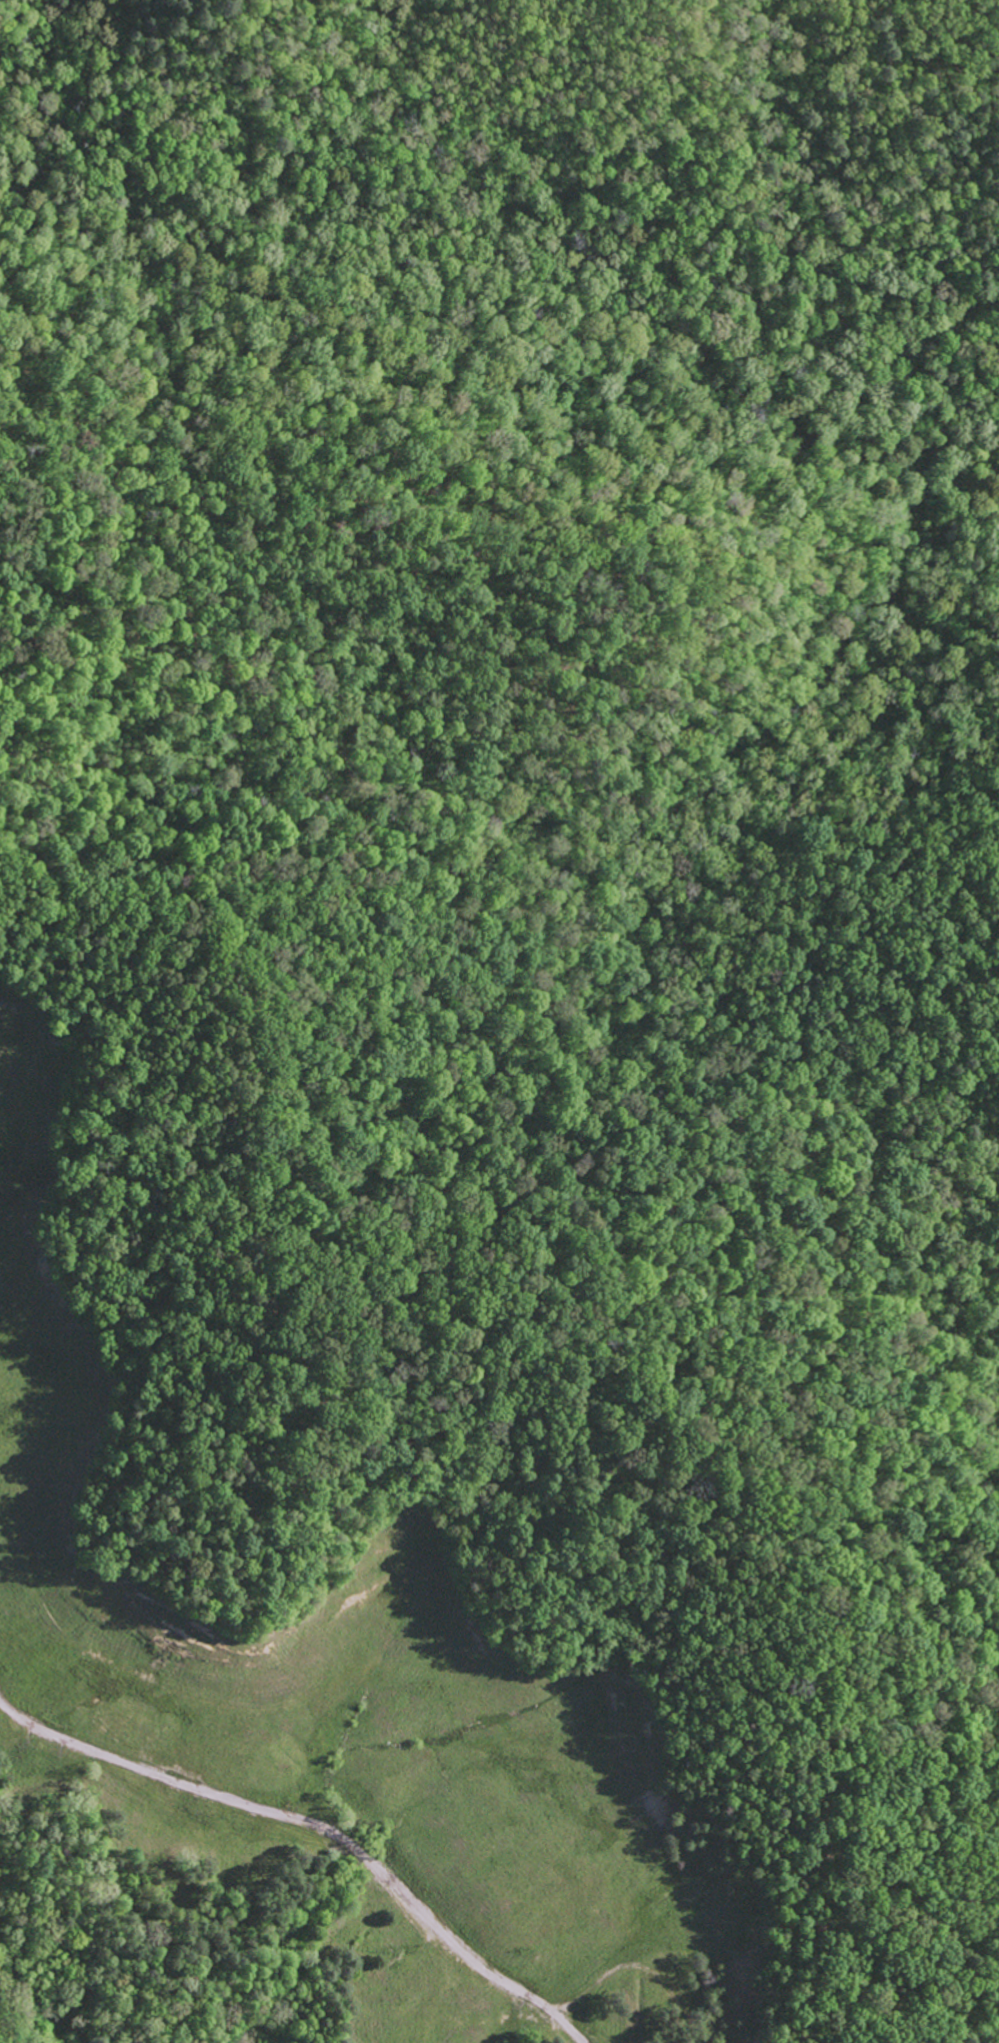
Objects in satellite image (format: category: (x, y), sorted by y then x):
road: (319, 1825)

